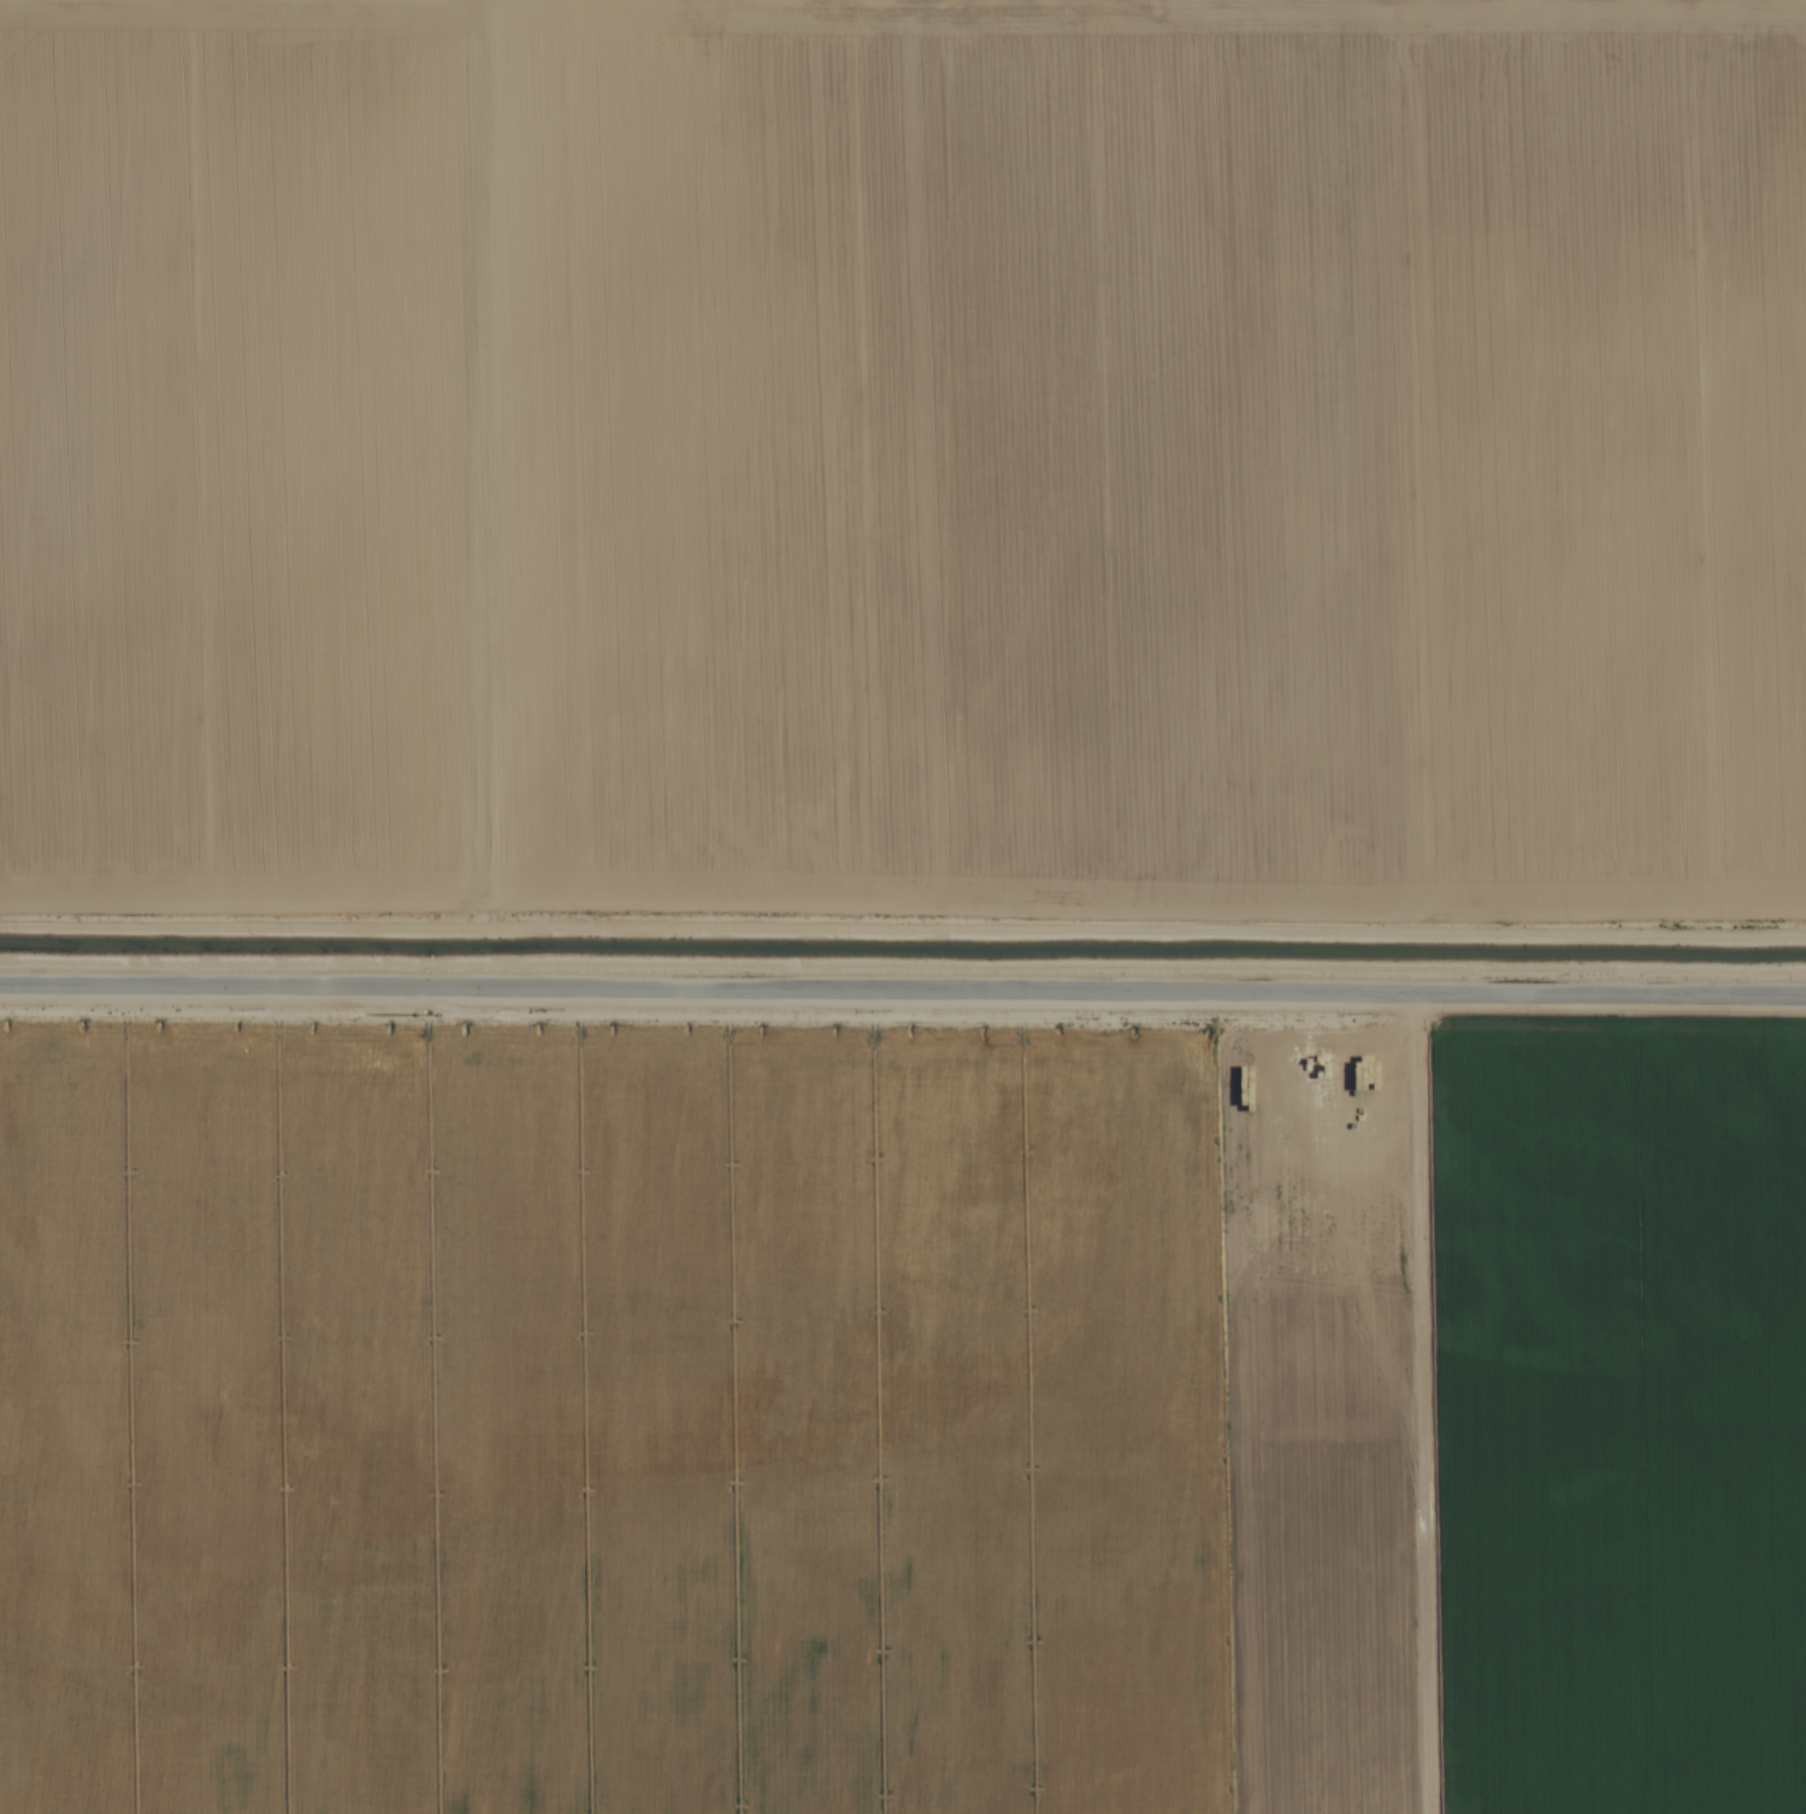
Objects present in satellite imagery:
crop: (903, 906)
road: (902, 1021)

